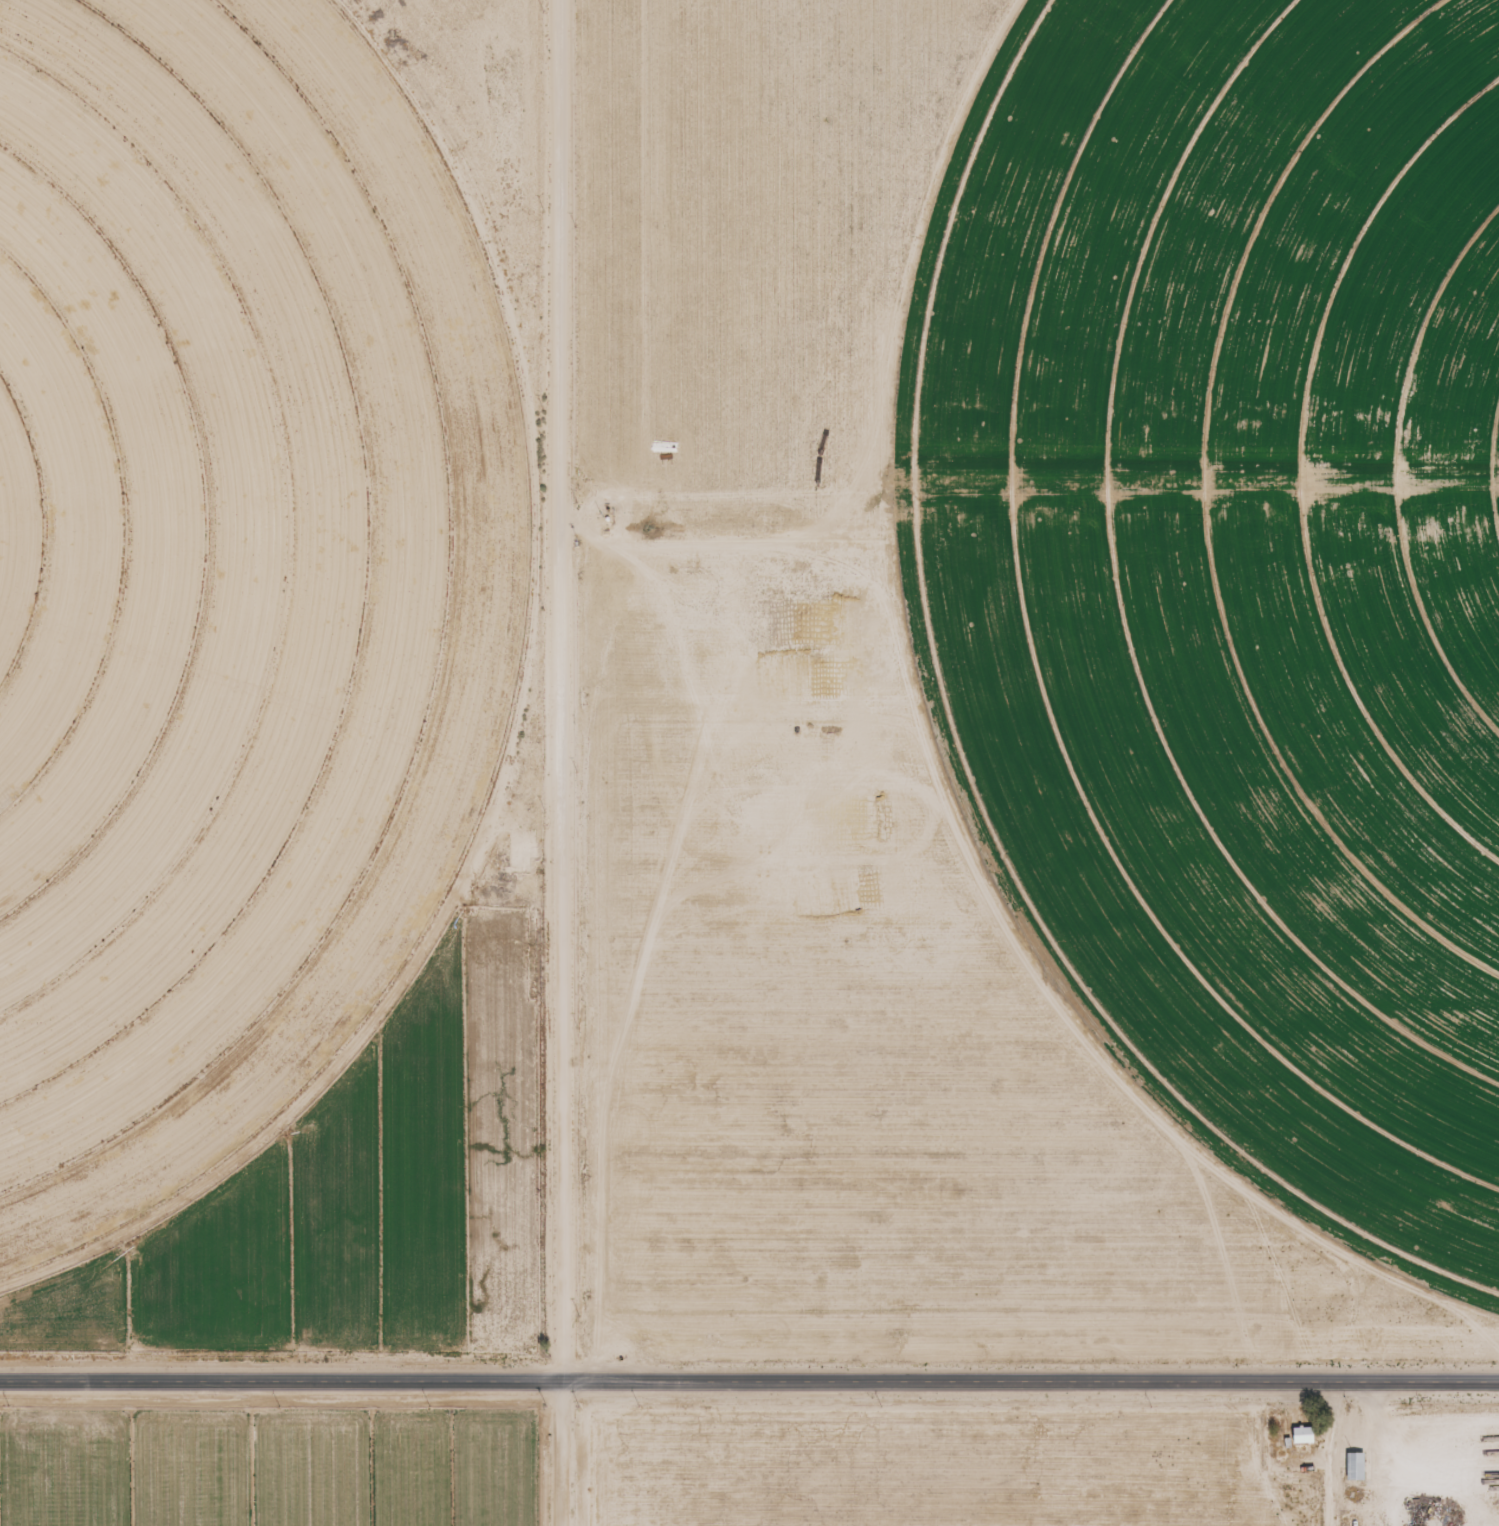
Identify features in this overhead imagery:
road: (706, 536)
crop: (1239, 570)
crop: (226, 578)
road: (559, 762)
road: (749, 1385)
building: (1306, 1435)
building: (1358, 1466)

